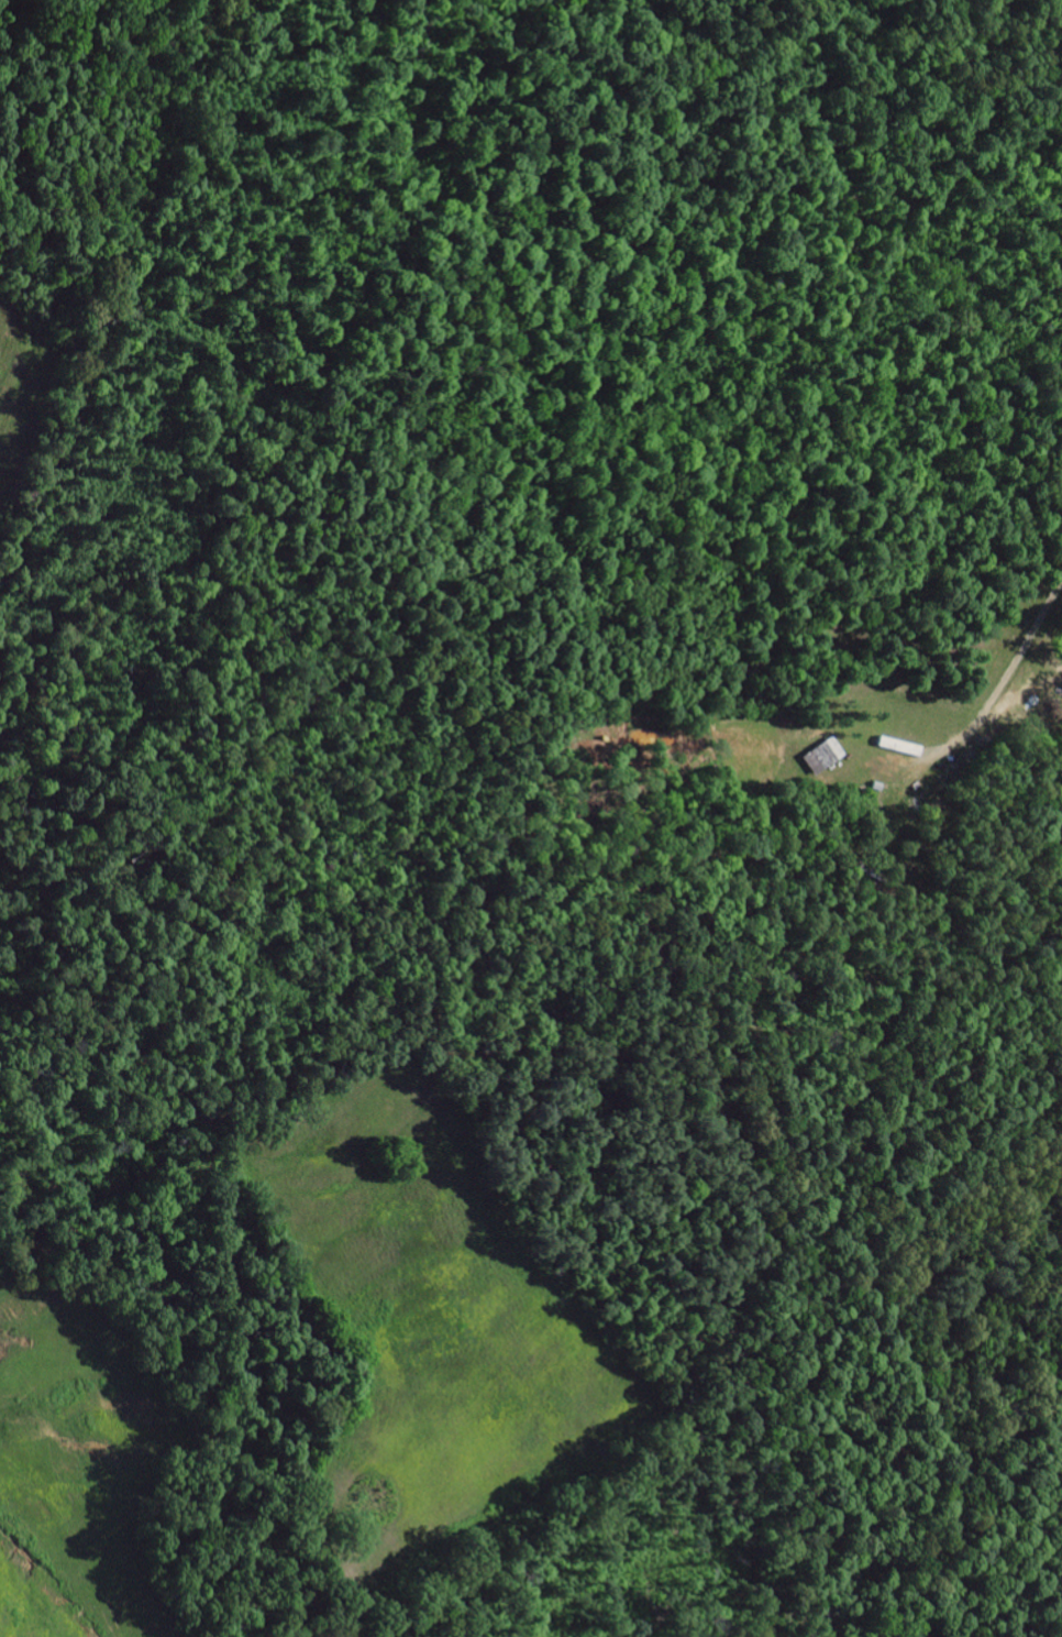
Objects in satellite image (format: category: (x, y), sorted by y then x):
building: (825, 757)

